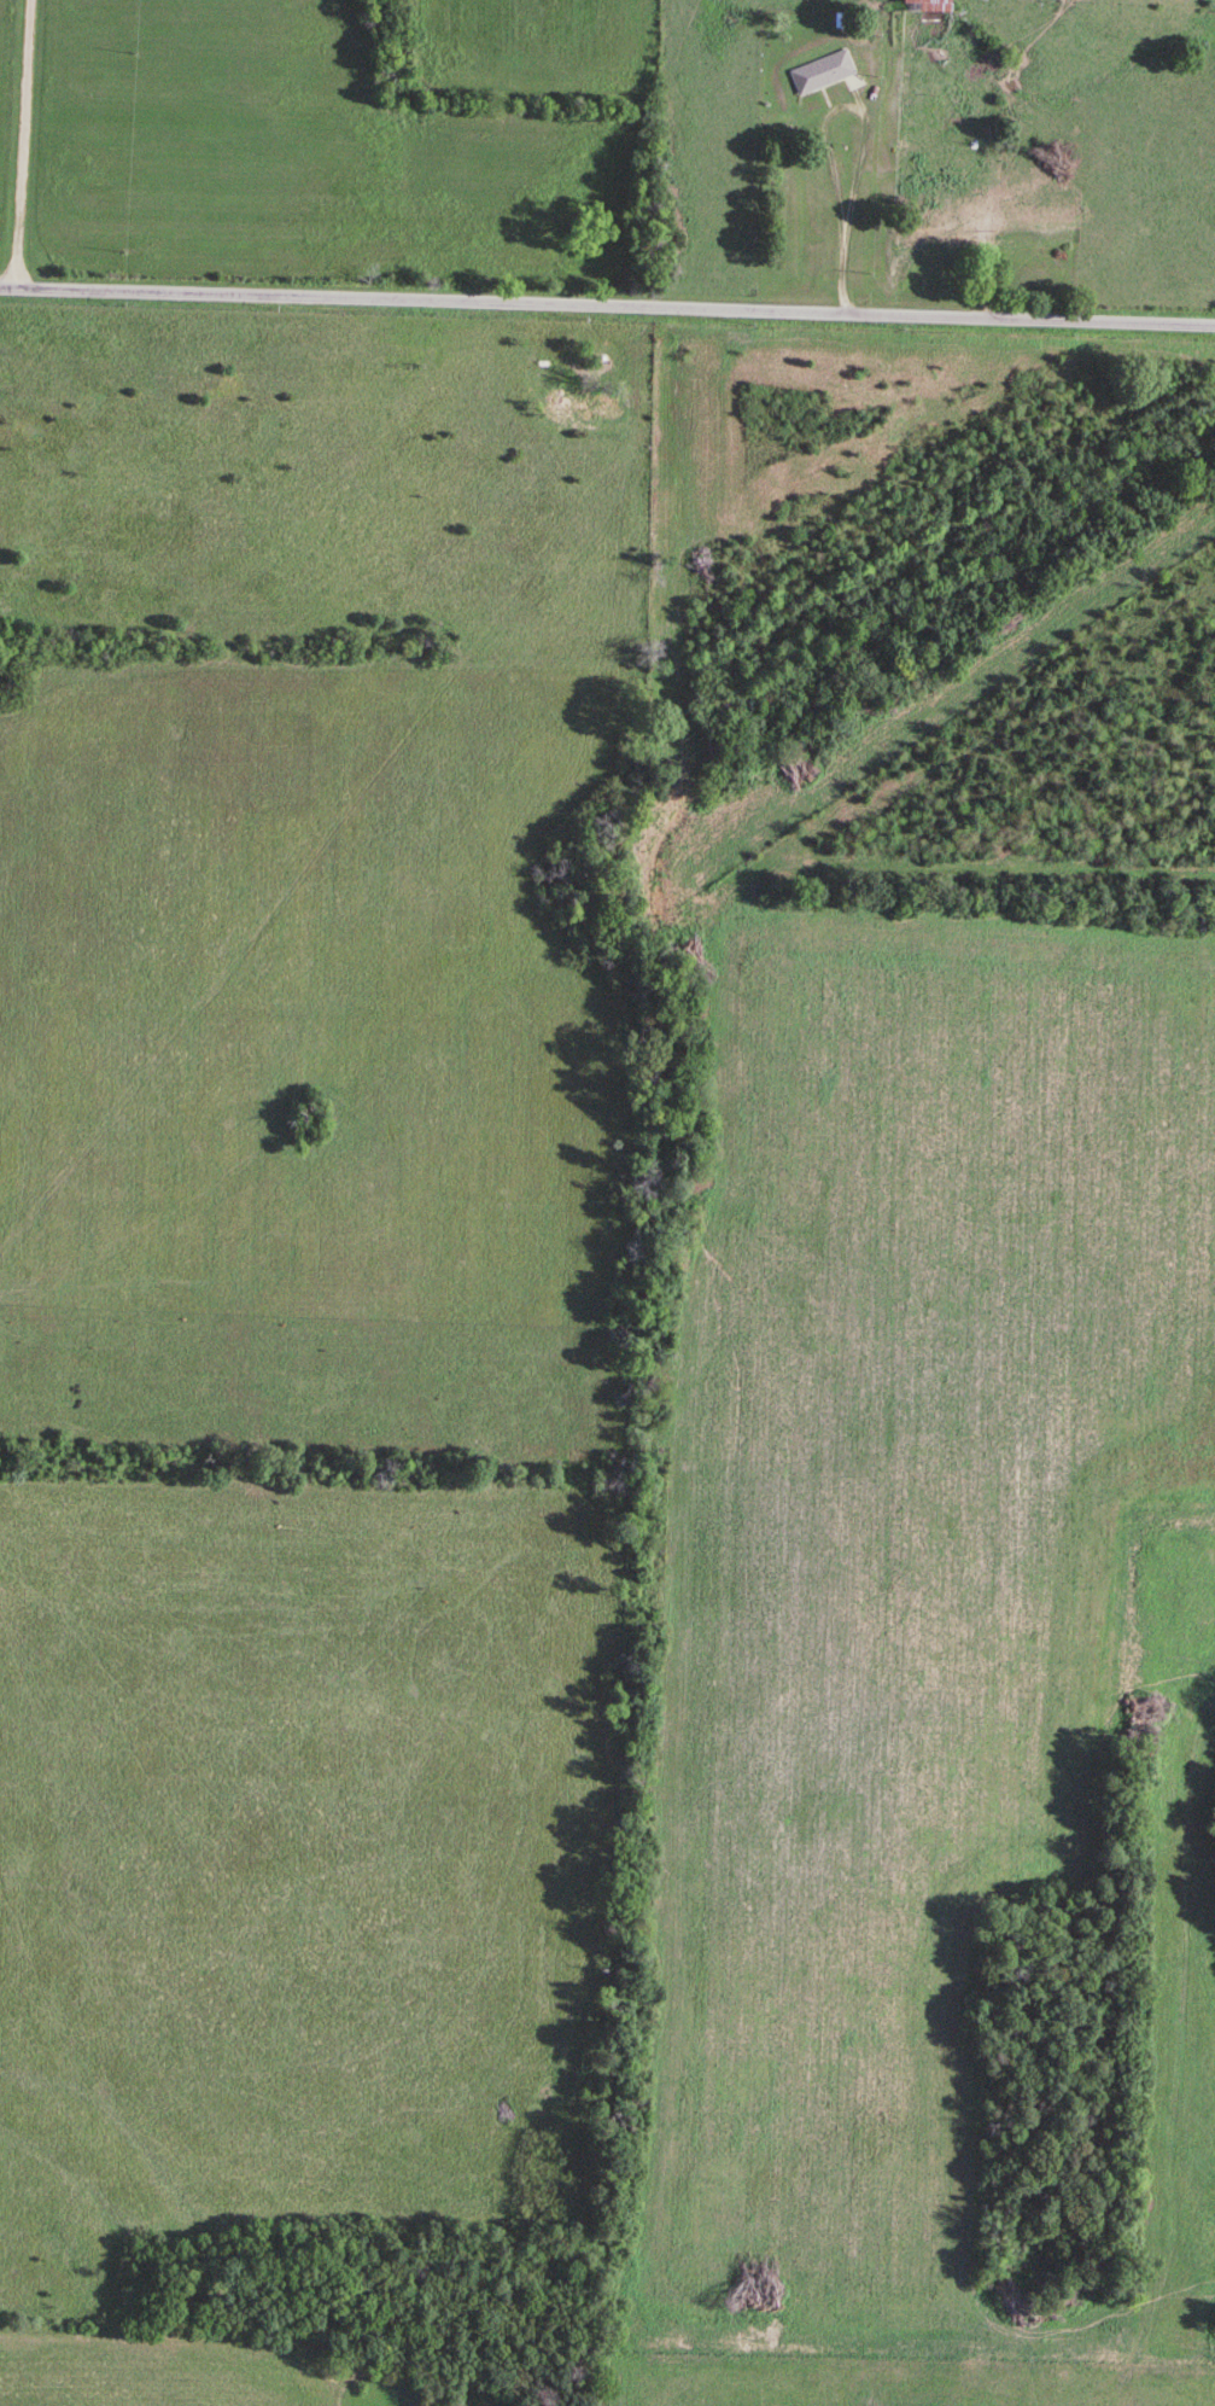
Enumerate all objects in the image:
building: (826, 70)
road: (22, 145)
road: (852, 205)
road: (607, 305)

